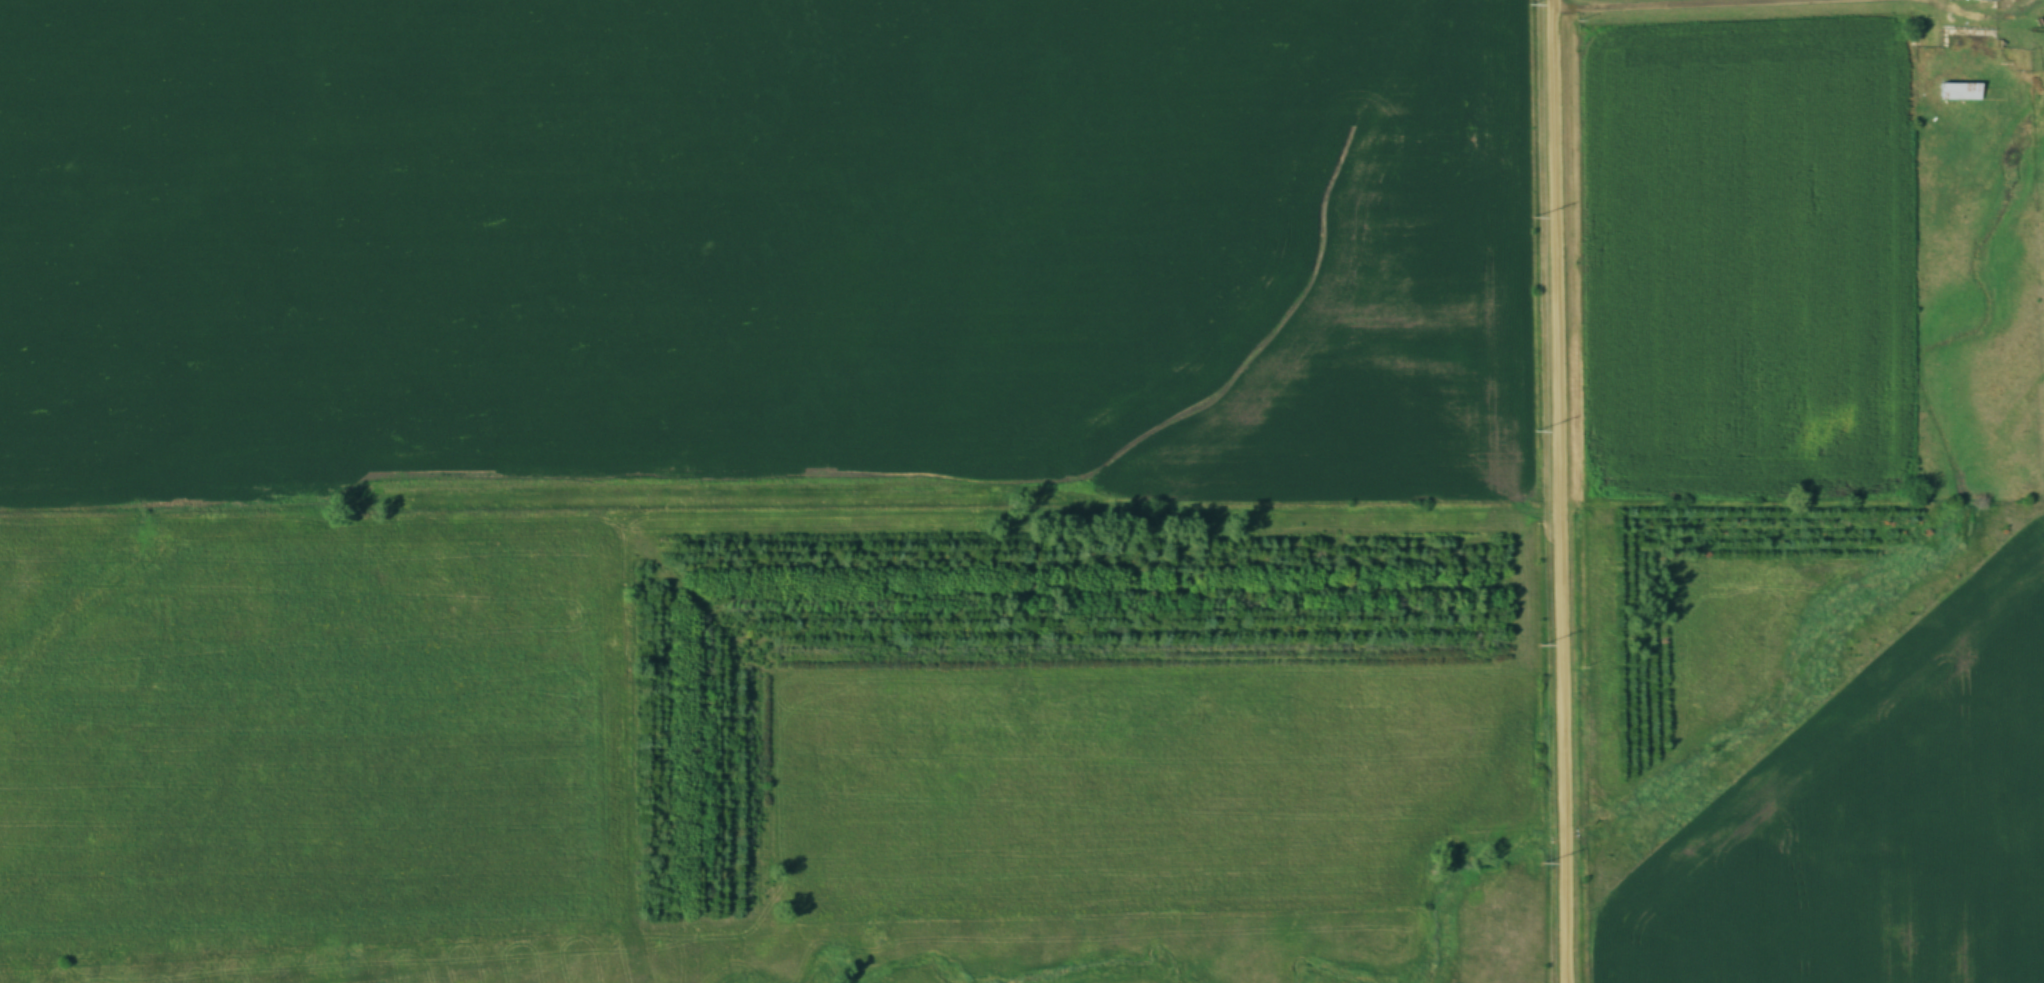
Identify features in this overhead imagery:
building: (1989, 1)
road: (1708, 5)
building: (1960, 93)
road: (1558, 491)

